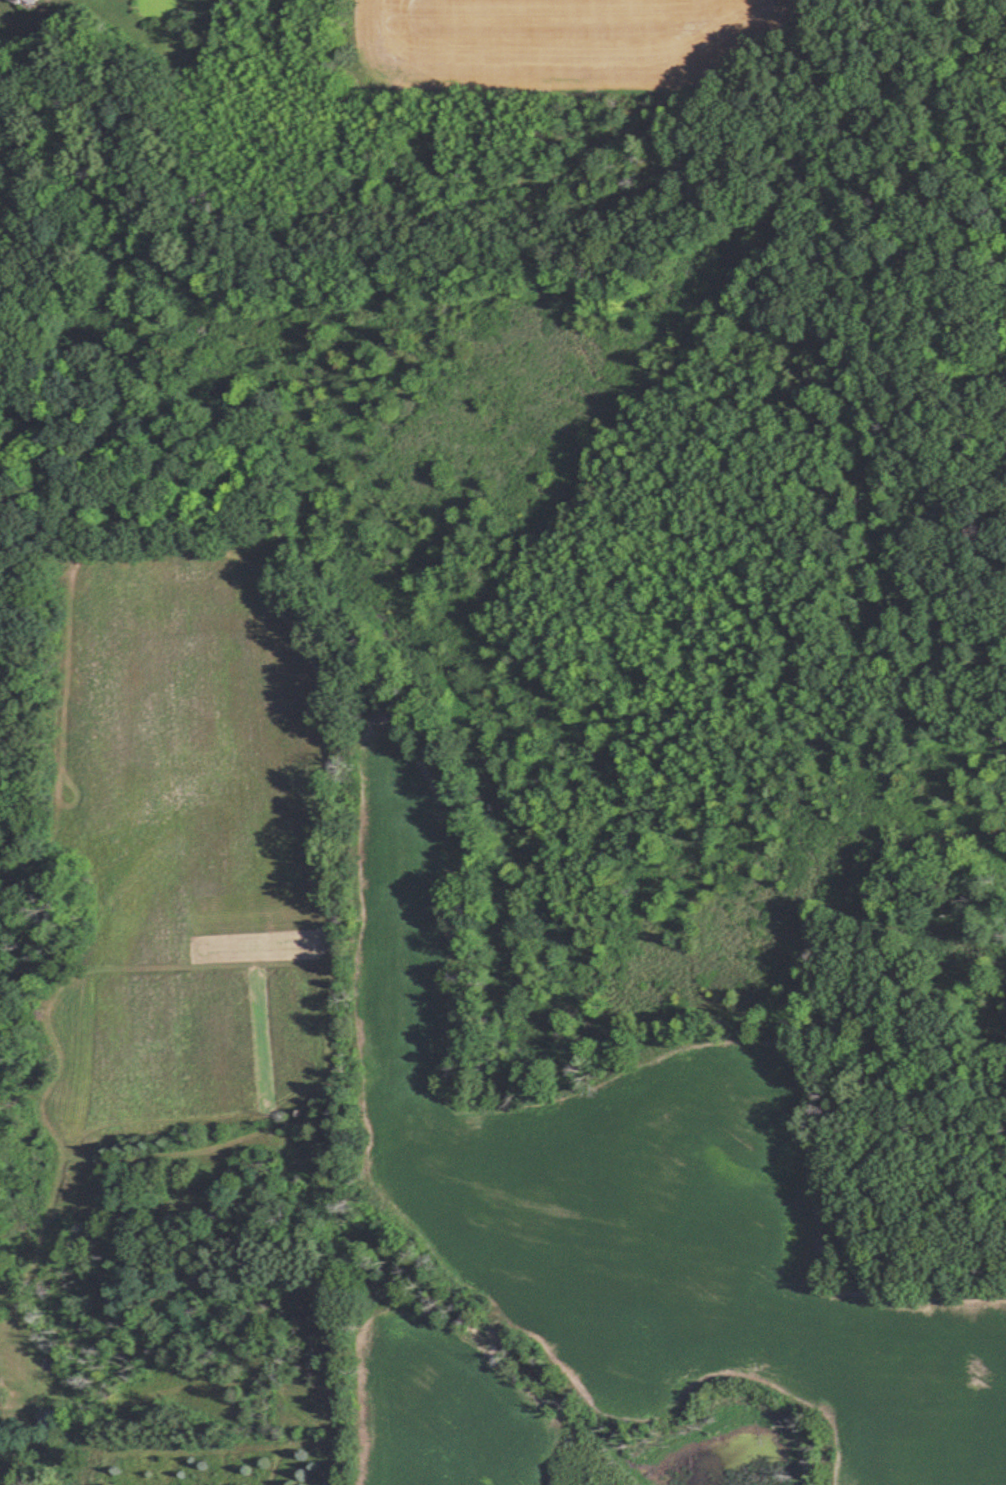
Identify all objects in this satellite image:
building: (31, 2)

